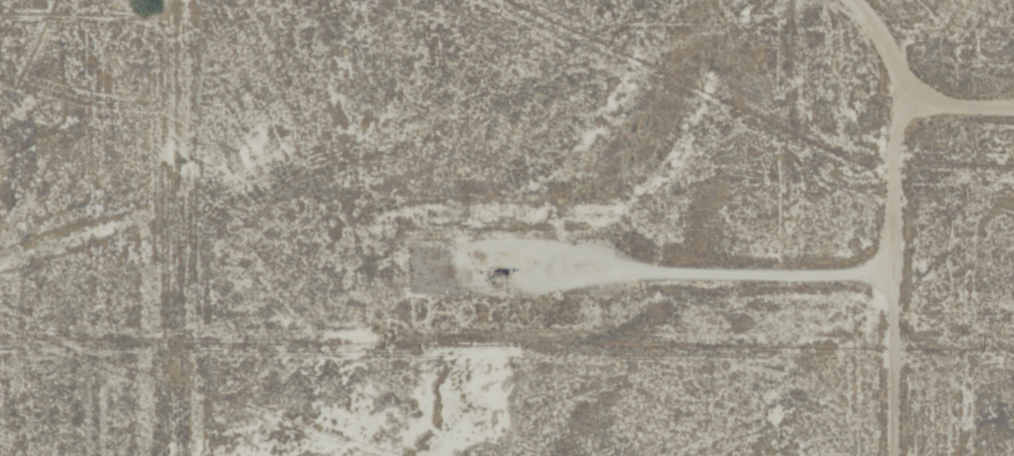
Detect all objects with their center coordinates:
road: (880, 50)
road: (885, 221)

